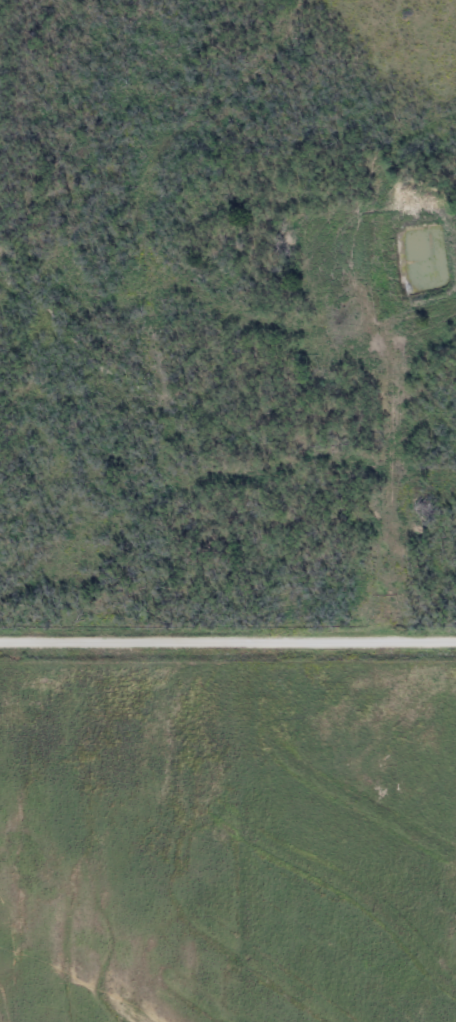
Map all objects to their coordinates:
road: (228, 639)

